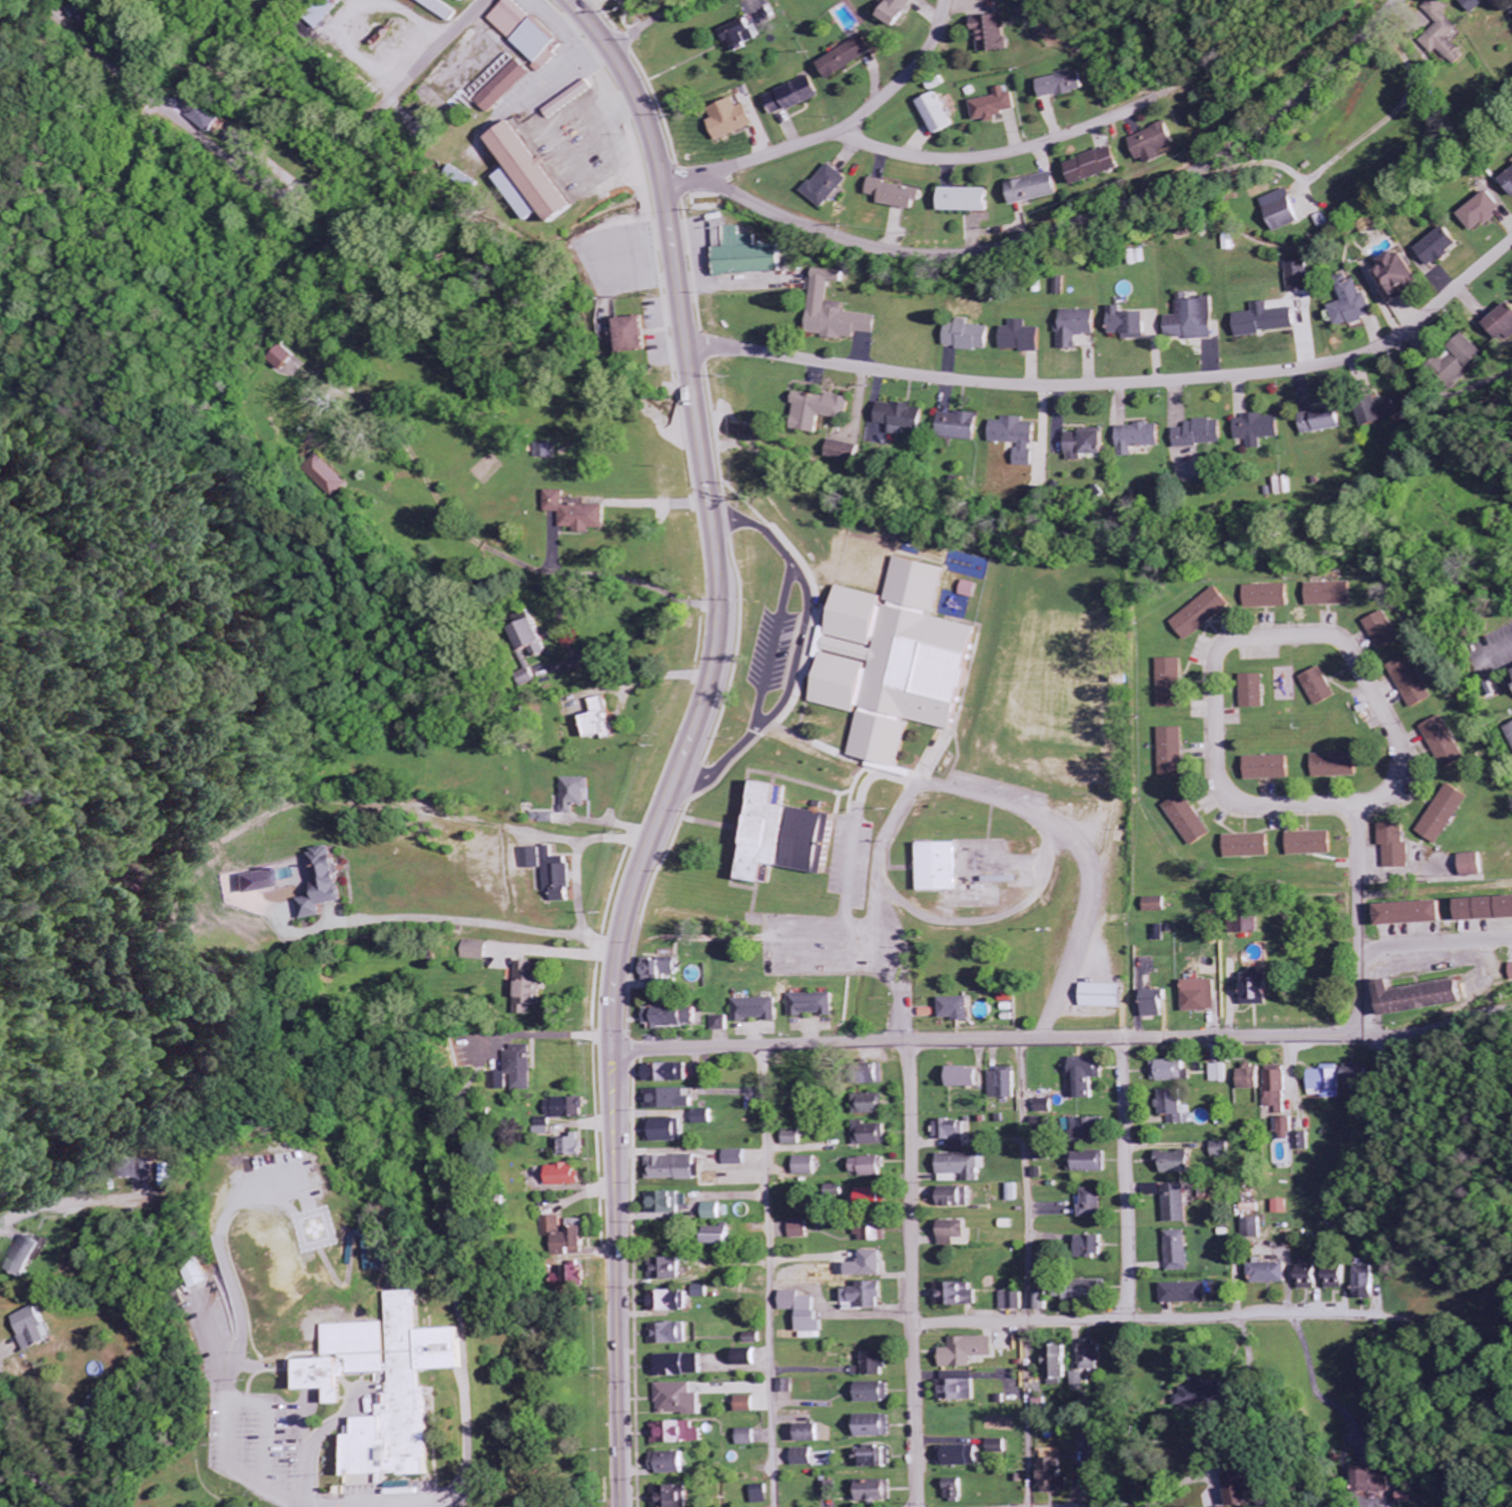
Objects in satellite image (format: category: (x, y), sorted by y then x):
building: (467, 0)
building: (1471, 5)
building: (442, 8)
building: (902, 11)
building: (326, 13)
building: (82, 21)
road: (595, 23)
road: (651, 23)
building: (528, 31)
road: (959, 34)
building: (997, 34)
building: (744, 35)
building: (1442, 41)
building: (851, 57)
road: (903, 80)
building: (1065, 85)
building: (508, 86)
building: (578, 96)
building: (796, 96)
building: (996, 105)
building: (940, 114)
building: (205, 116)
building: (735, 119)
building: (1160, 143)
road: (904, 155)
building: (1100, 165)
building: (536, 174)
building: (1507, 183)
building: (831, 185)
building: (1037, 188)
road: (271, 189)
building: (899, 195)
building: (969, 200)
building: (1284, 211)
building: (1479, 212)
road: (1081, 226)
building: (1439, 245)
road: (1502, 251)
building: (752, 256)
building: (1301, 276)
building: (1401, 277)
building: (1355, 306)
building: (839, 312)
building: (1195, 319)
building: (1269, 320)
building: (1132, 324)
building: (1504, 324)
building: (1080, 327)
building: (638, 335)
building: (971, 336)
building: (1025, 338)
building: (286, 359)
building: (1464, 362)
road: (1114, 383)
building: (823, 410)
building: (1389, 411)
building: (906, 418)
building: (1325, 421)
building: (964, 426)
building: (1260, 430)
building: (1204, 434)
building: (1022, 438)
building: (1142, 438)
building: (1091, 445)
road: (1351, 445)
building: (847, 453)
building: (1041, 494)
building: (580, 514)
road: (769, 532)
road: (366, 558)
road: (201, 575)
building: (973, 590)
building: (1333, 594)
building: (1271, 597)
building: (1205, 613)
building: (1387, 632)
building: (537, 637)
road: (1259, 637)
road: (761, 646)
building: (899, 662)
building: (1415, 683)
building: (1174, 684)
building: (1324, 688)
building: (1257, 692)
building: (602, 721)
building: (1448, 743)
building: (1175, 753)
road: (816, 754)
building: (1340, 766)
building: (1271, 768)
road: (677, 770)
road: (848, 786)
building: (577, 794)
building: (1446, 814)
building: (547, 818)
building: (1190, 820)
building: (795, 837)
building: (1313, 844)
building: (1251, 846)
building: (1398, 847)
building: (533, 858)
building: (1475, 865)
building: (941, 868)
building: (560, 876)
building: (255, 882)
building: (335, 884)
building: (1158, 905)
building: (1486, 910)
building: (1415, 914)
road: (464, 925)
road: (810, 926)
building: (1252, 926)
road: (1359, 937)
road: (1435, 943)
building: (478, 951)
building: (664, 970)
building: (532, 989)
building: (1262, 990)
building: (1104, 997)
building: (1203, 997)
building: (1426, 998)
building: (1158, 1004)
building: (812, 1006)
building: (958, 1009)
building: (757, 1011)
building: (675, 1017)
road: (1494, 1017)
building: (722, 1024)
road: (1422, 1037)
road: (987, 1043)
building: (522, 1069)
building: (701, 1071)
building: (1173, 1072)
building: (1220, 1073)
building: (668, 1074)
building: (1088, 1077)
building: (965, 1078)
building: (1357, 1078)
building: (1251, 1079)
building: (1328, 1082)
building: (1005, 1084)
building: (1279, 1089)
building: (673, 1100)
building: (871, 1105)
building: (1047, 1107)
building: (1174, 1107)
building: (569, 1109)
building: (707, 1118)
building: (1044, 1124)
building: (1093, 1129)
building: (1288, 1129)
building: (667, 1131)
building: (951, 1133)
building: (869, 1135)
building: (794, 1138)
building: (1305, 1142)
building: (571, 1147)
building: (1223, 1150)
building: (739, 1158)
building: (1088, 1162)
building: (1179, 1163)
building: (806, 1167)
building: (867, 1167)
building: (960, 1168)
building: (677, 1169)
building: (144, 1171)
building: (565, 1176)
road: (1124, 1180)
building: (1011, 1194)
building: (875, 1196)
building: (955, 1198)
building: (669, 1204)
building: (1094, 1204)
building: (1179, 1205)
road: (44, 1206)
building: (1284, 1208)
building: (717, 1212)
building: (1255, 1229)
building: (801, 1230)
building: (955, 1234)
building: (874, 1235)
building: (724, 1236)
building: (565, 1239)
road: (1026, 1246)
building: (1093, 1247)
building: (1179, 1252)
building: (30, 1257)
building: (872, 1266)
building: (667, 1270)
building: (1273, 1274)
road: (911, 1275)
road: (769, 1276)
building: (579, 1278)
building: (1311, 1278)
building: (1338, 1279)
building: (1366, 1284)
building: (702, 1292)
building: (1084, 1292)
building: (1187, 1294)
building: (869, 1296)
building: (959, 1296)
building: (1014, 1302)
building: (1042, 1302)
building: (672, 1303)
building: (804, 1312)
road: (1143, 1320)
building: (39, 1328)
building: (673, 1335)
building: (970, 1352)
building: (1093, 1356)
building: (749, 1358)
building: (1058, 1363)
building: (876, 1365)
building: (681, 1366)
building: (1080, 1383)
building: (390, 1385)
building: (788, 1387)
building: (959, 1387)
building: (875, 1393)
building: (1205, 1393)
building: (682, 1401)
road: (239, 1404)
building: (749, 1405)
building: (1041, 1407)
building: (875, 1427)
building: (682, 1434)
building: (814, 1434)
building: (751, 1438)
road: (313, 1446)
building: (1000, 1447)
road: (23, 1449)
building: (962, 1457)
building: (806, 1458)
building: (881, 1460)
building: (673, 1464)
building: (1058, 1476)
road: (1030, 1479)
building: (1375, 1482)
building: (830, 1491)
building: (956, 1491)
building: (1251, 1491)
building: (874, 1492)
building: (763, 1495)
building: (675, 1497)
road: (288, 1501)
road: (405, 1504)

